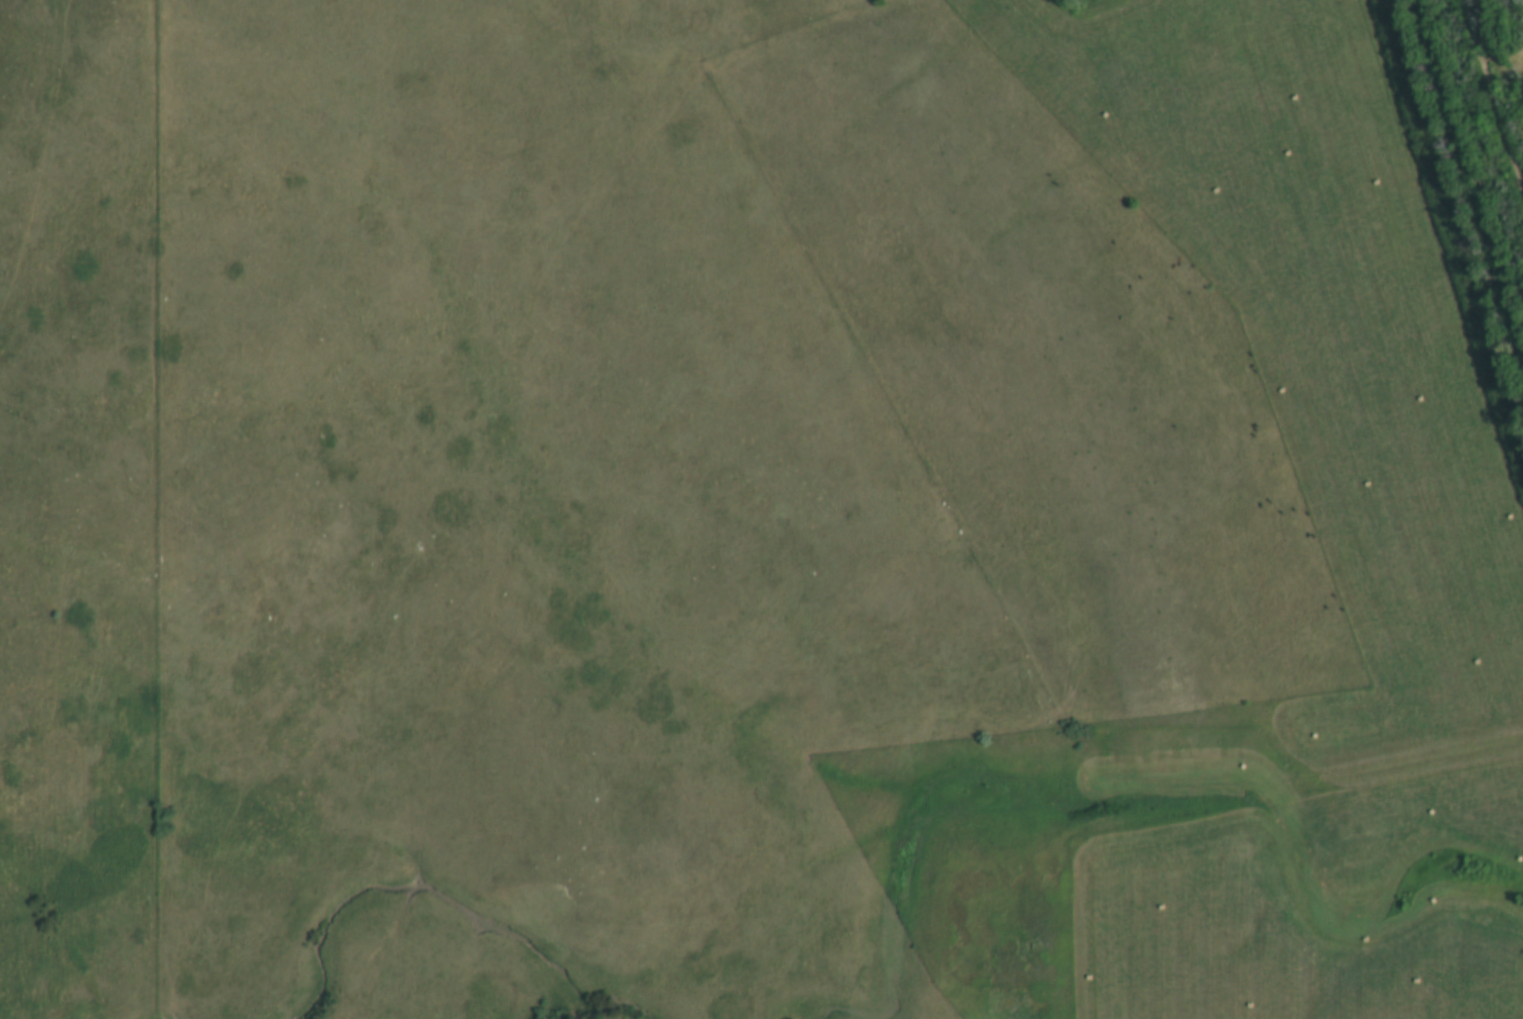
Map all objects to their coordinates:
road: (1491, 100)

